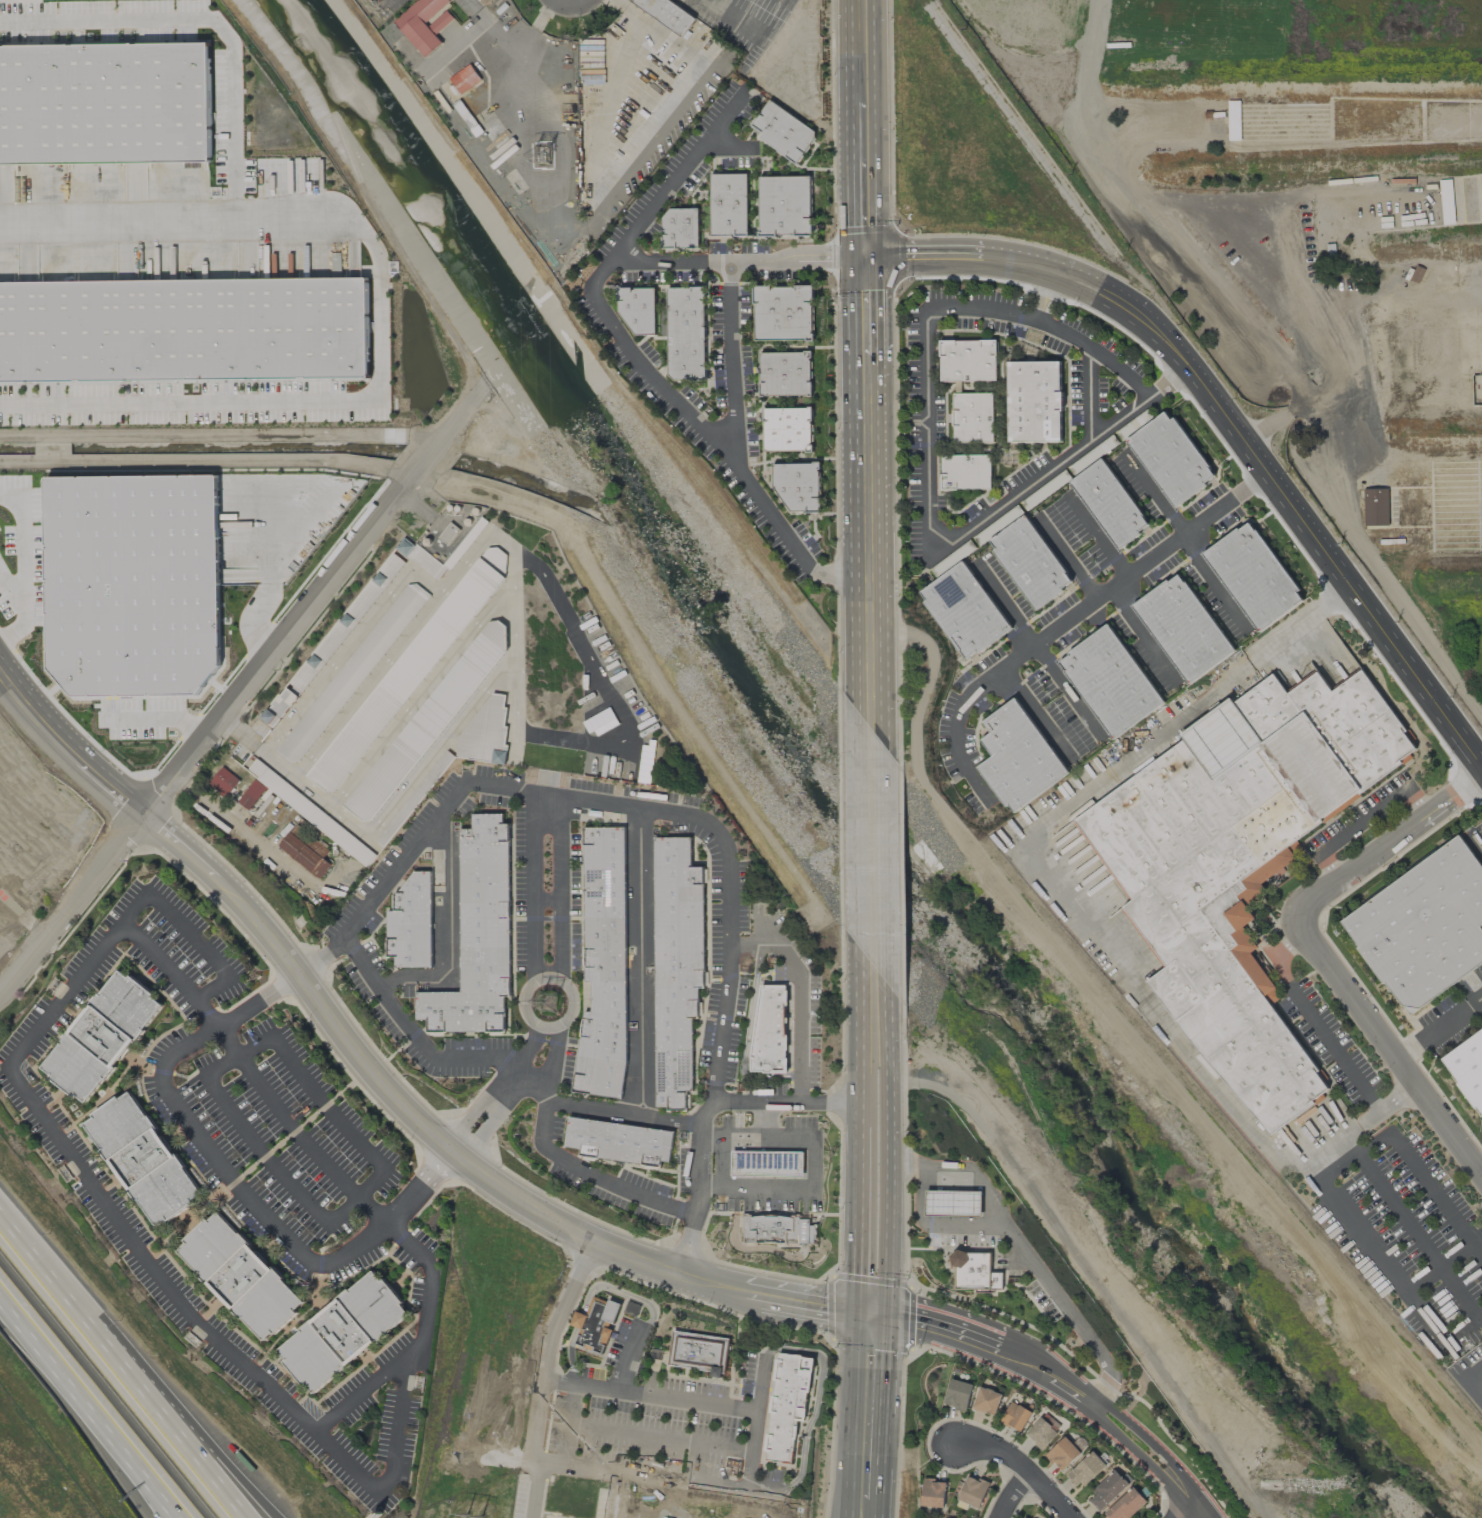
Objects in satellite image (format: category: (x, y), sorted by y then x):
building: (666, 13)
road: (729, 16)
road: (540, 20)
building: (421, 24)
road: (492, 30)
road: (862, 47)
building: (465, 79)
building: (105, 104)
road: (234, 116)
building: (1233, 120)
building: (783, 132)
road: (732, 147)
power tower: (552, 158)
road: (864, 177)
building: (1446, 202)
building: (728, 205)
building: (785, 206)
building: (681, 228)
road: (939, 259)
road: (738, 261)
road: (1033, 266)
road: (865, 309)
building: (638, 312)
building: (783, 313)
building: (184, 330)
building: (686, 333)
road: (1328, 342)
road: (1097, 351)
road: (634, 359)
road: (731, 364)
building: (785, 374)
building: (956, 387)
road: (346, 390)
road: (1090, 394)
building: (1034, 402)
road: (471, 409)
building: (788, 429)
building: (1170, 458)
road: (428, 460)
building: (965, 472)
road: (1259, 484)
building: (798, 488)
road: (1288, 491)
road: (929, 502)
building: (1109, 503)
building: (1375, 507)
road: (840, 538)
road: (867, 539)
road: (1098, 539)
road: (1186, 543)
building: (952, 559)
building: (1030, 562)
road: (1067, 563)
road: (29, 565)
road: (268, 571)
building: (1253, 576)
building: (133, 583)
road: (13, 585)
building: (964, 611)
road: (513, 620)
building: (1183, 628)
road: (1056, 631)
road: (1142, 636)
road: (895, 651)
road: (1038, 651)
road: (649, 665)
building: (410, 671)
building: (353, 673)
road: (368, 682)
building: (1110, 682)
road: (423, 692)
building: (283, 703)
road: (1038, 714)
road: (160, 719)
road: (625, 720)
building: (485, 733)
road: (199, 743)
building: (1018, 757)
building: (223, 782)
building: (251, 795)
road: (1364, 820)
road: (240, 827)
road: (1480, 843)
road: (1391, 846)
road: (1029, 849)
road: (872, 850)
building: (306, 851)
building: (1239, 862)
road: (399, 867)
road: (534, 887)
road: (562, 890)
road: (730, 895)
road: (549, 900)
building: (411, 923)
building: (1424, 927)
road: (191, 933)
road: (450, 933)
building: (478, 935)
road: (1284, 951)
road: (640, 962)
road: (314, 964)
building: (604, 965)
building: (677, 967)
road: (555, 979)
road: (801, 995)
power tower: (555, 1010)
road: (1442, 1028)
building: (770, 1029)
road: (414, 1033)
building: (102, 1036)
road: (1391, 1042)
road: (1335, 1048)
road: (859, 1052)
road: (521, 1066)
building: (1467, 1067)
road: (325, 1102)
road: (785, 1104)
road: (602, 1110)
road: (475, 1111)
road: (1363, 1125)
road: (296, 1134)
road: (482, 1134)
building: (619, 1142)
road: (457, 1148)
road: (889, 1150)
road: (266, 1155)
building: (143, 1158)
road: (563, 1158)
building: (767, 1164)
road: (467, 1165)
road: (723, 1165)
road: (813, 1166)
road: (231, 1178)
road: (1424, 1179)
road: (541, 1197)
building: (953, 1203)
road: (1405, 1220)
road: (853, 1224)
road: (936, 1228)
building: (779, 1230)
road: (688, 1244)
road: (1369, 1246)
road: (1027, 1255)
road: (605, 1263)
road: (1444, 1263)
building: (971, 1270)
building: (241, 1276)
building: (996, 1281)
road: (166, 1287)
road: (72, 1306)
building: (595, 1324)
building: (343, 1332)
road: (547, 1347)
building: (698, 1353)
road: (629, 1358)
road: (870, 1363)
road: (1473, 1377)
road: (362, 1388)
road: (649, 1394)
building: (957, 1395)
road: (82, 1396)
building: (987, 1401)
building: (787, 1405)
building: (1015, 1416)
road: (568, 1425)
building: (1041, 1433)
road: (1140, 1435)
road: (661, 1437)
road: (1128, 1447)
building: (1063, 1454)
road: (195, 1456)
road: (205, 1456)
road: (866, 1461)
road: (1017, 1465)
building: (1085, 1470)
road: (707, 1487)
road: (536, 1491)
building: (1107, 1491)
building: (933, 1493)
building: (972, 1493)
road: (1010, 1494)
road: (617, 1496)
road: (1190, 1498)
building: (1126, 1505)
road: (169, 1508)
road: (171, 1508)
road: (1191, 1513)
road: (861, 1514)
road: (862, 1514)

